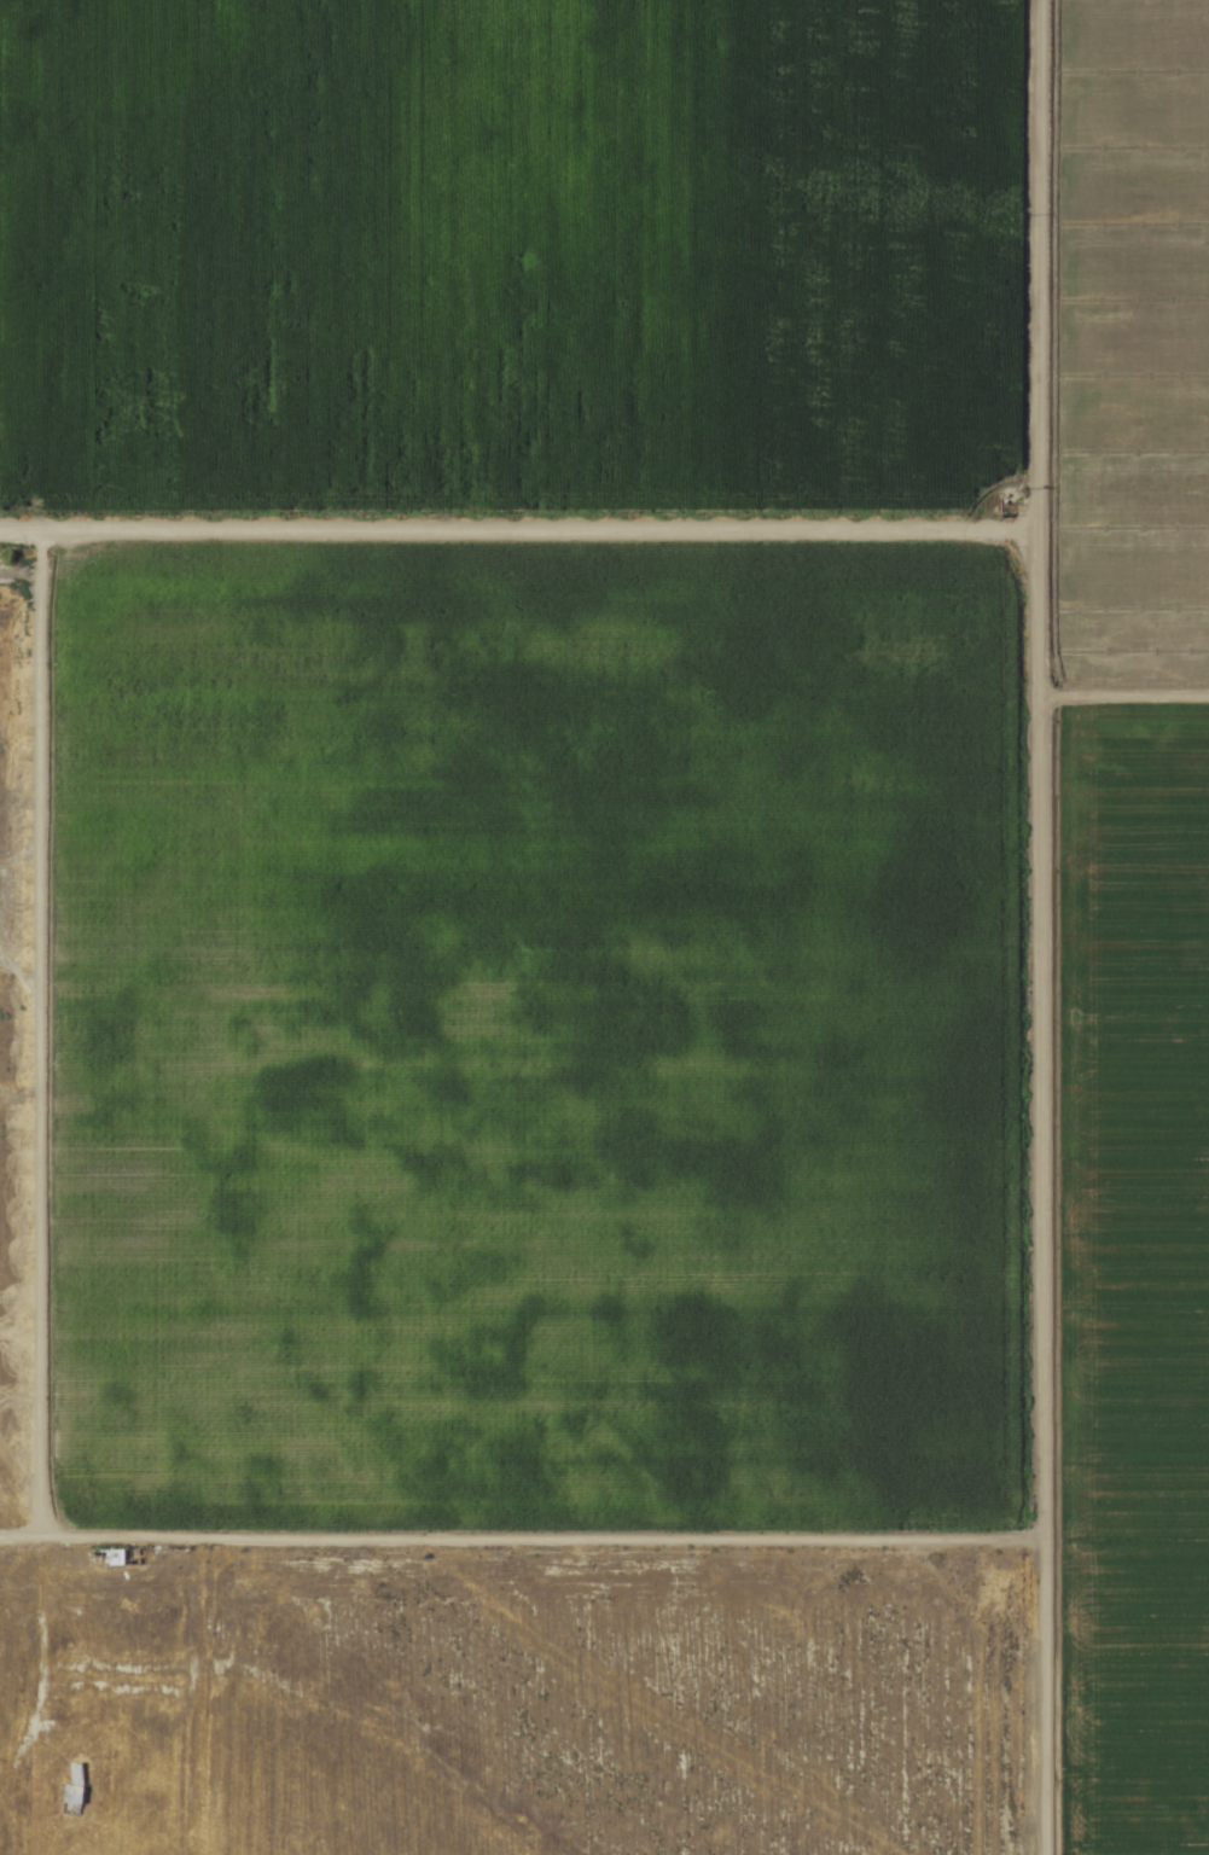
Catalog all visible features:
road: (1041, 926)
building: (116, 1558)
building: (71, 1787)

